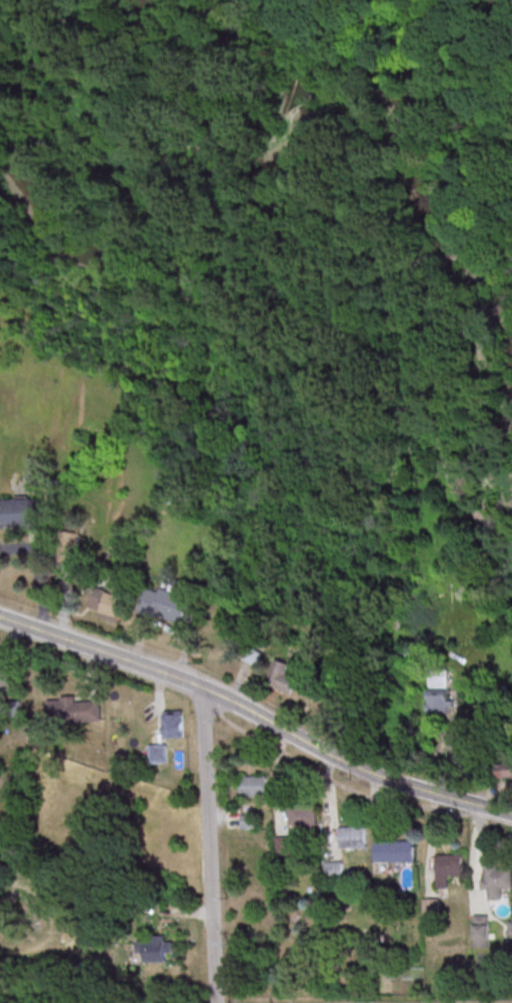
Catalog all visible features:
river: (224, 172)
river: (457, 256)
building: (19, 512)
building: (107, 603)
building: (163, 604)
building: (217, 639)
building: (253, 653)
building: (281, 676)
building: (5, 681)
building: (439, 697)
building: (74, 709)
road: (257, 713)
building: (173, 724)
building: (158, 753)
building: (503, 770)
building: (254, 785)
building: (303, 814)
building: (353, 836)
building: (284, 844)
road: (210, 846)
building: (395, 850)
building: (448, 868)
building: (496, 879)
building: (431, 905)
building: (481, 930)
building: (156, 948)

